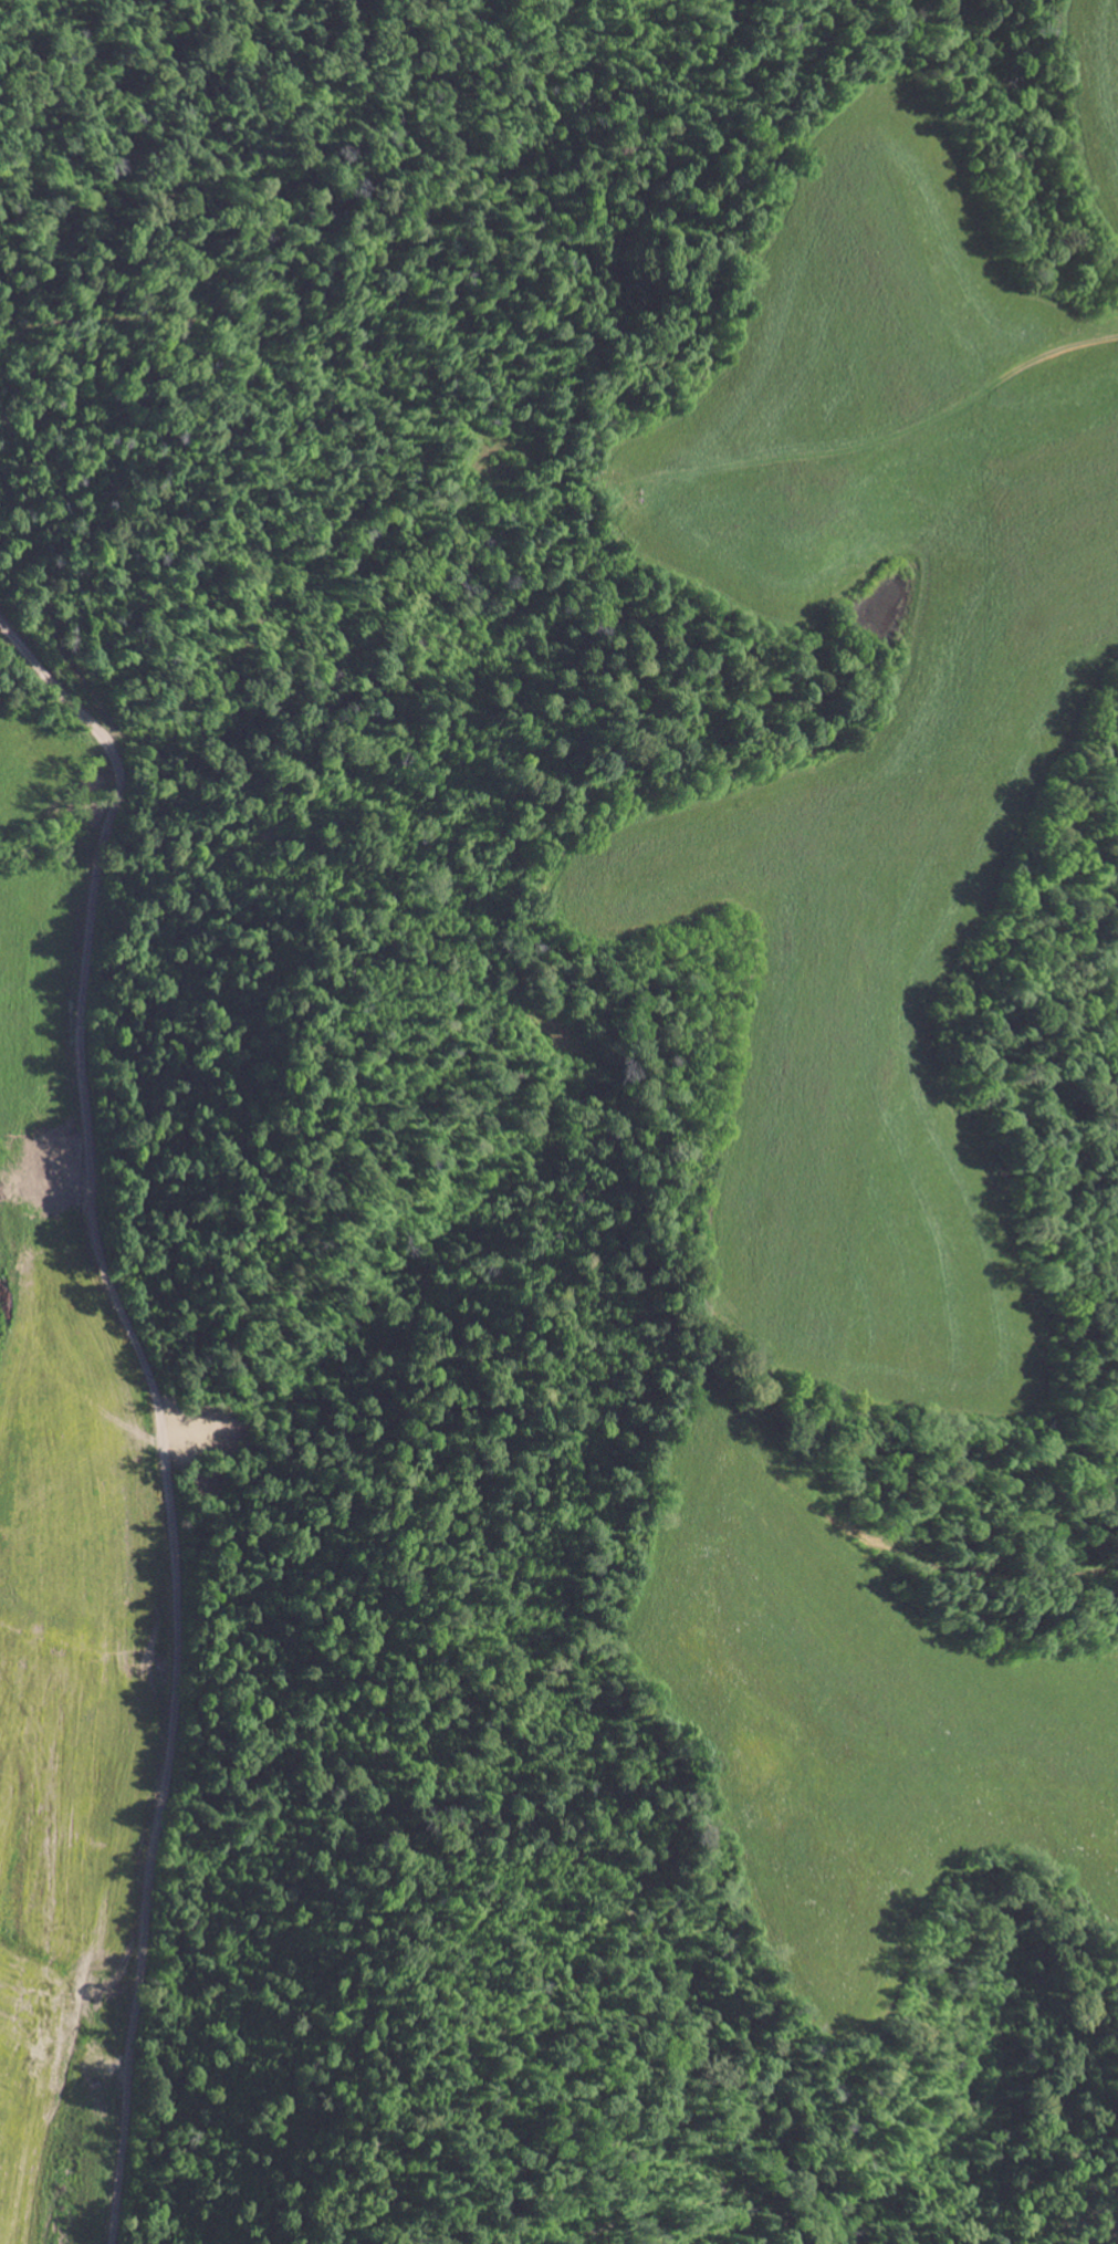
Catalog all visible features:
road: (159, 1401)

